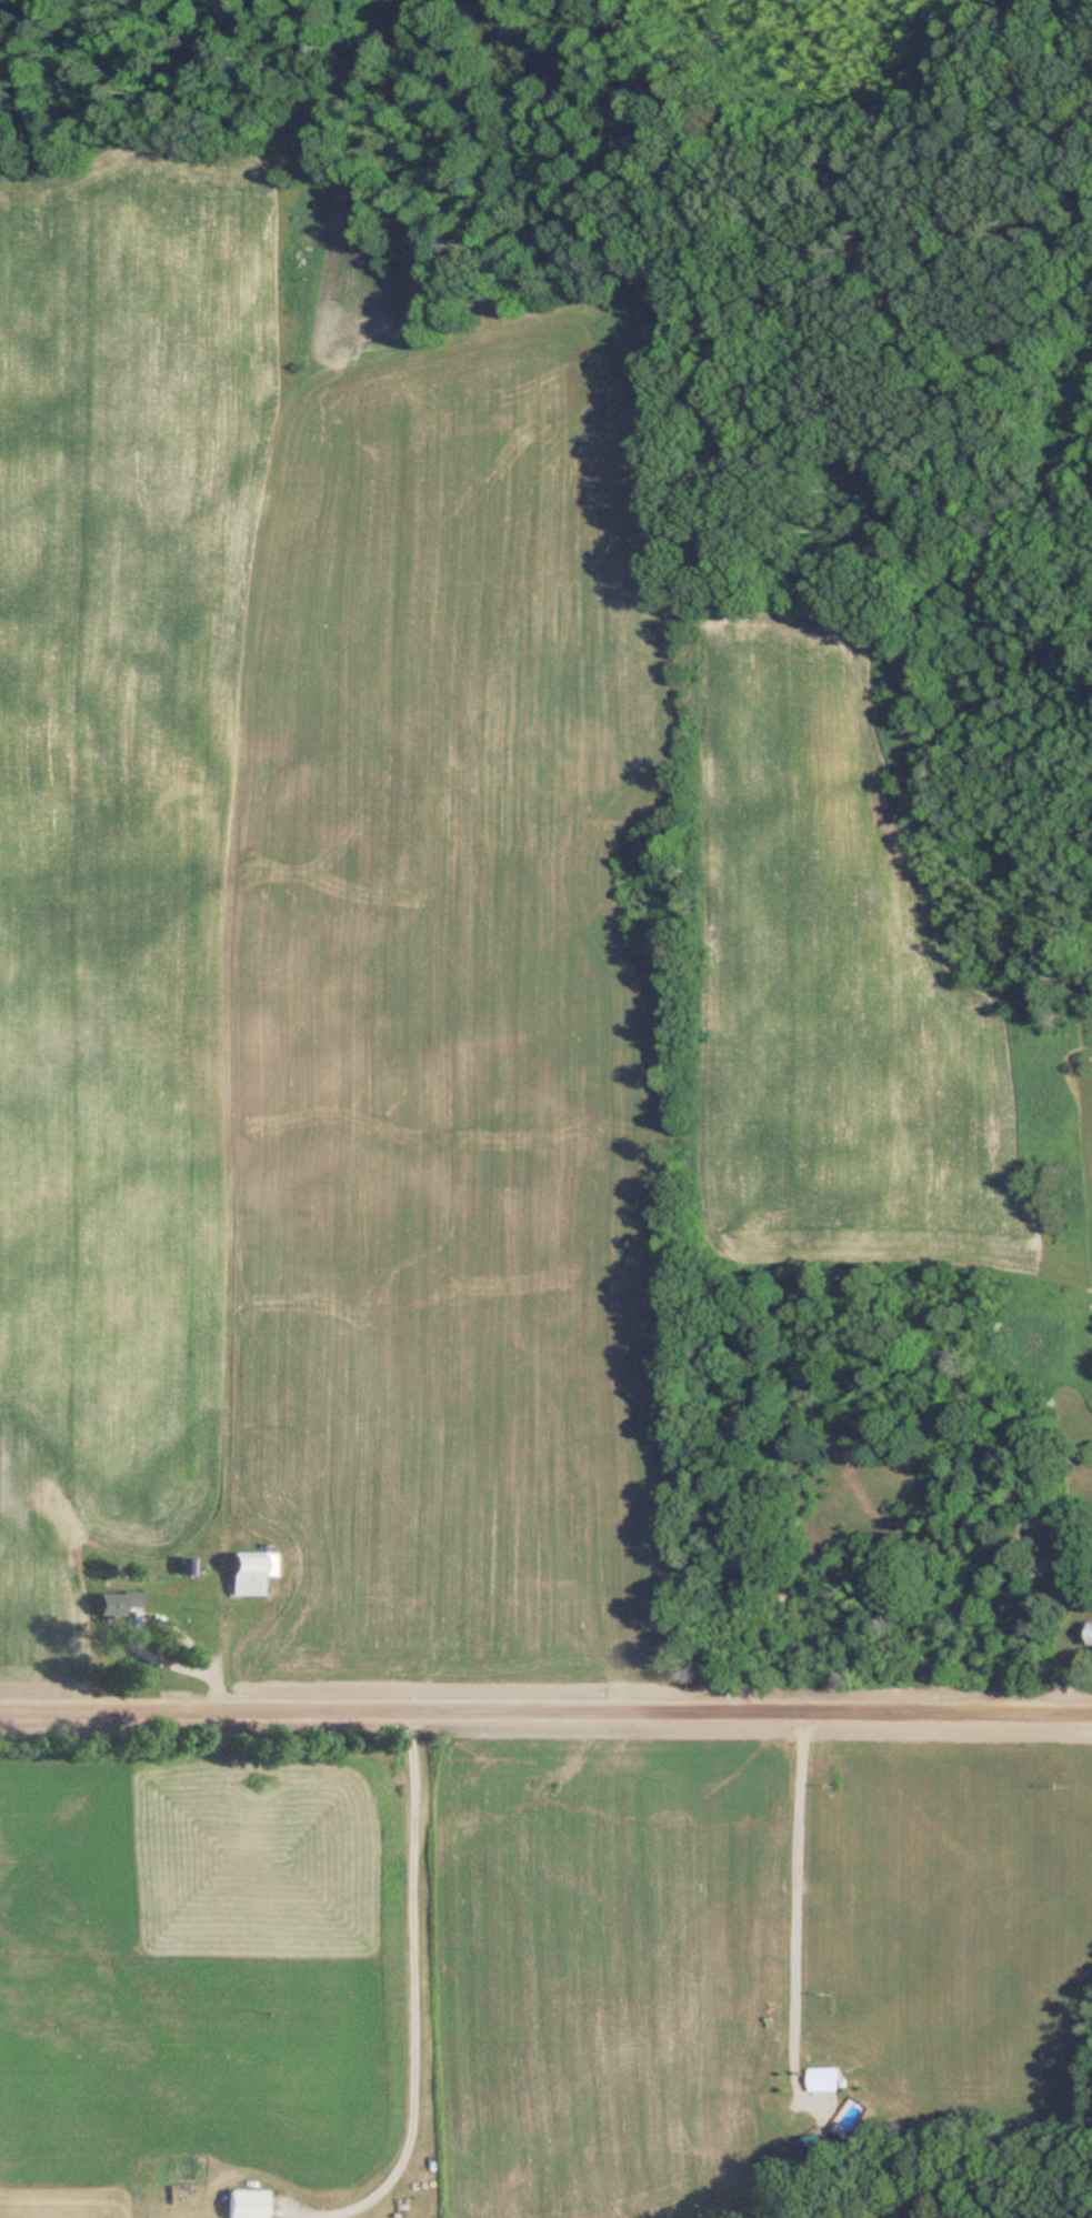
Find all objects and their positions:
building: (181, 1567)
building: (241, 1574)
building: (116, 1604)
building: (1086, 1633)
road: (173, 1660)
road: (545, 1707)
road: (797, 1881)
road: (411, 1999)
building: (824, 2079)
building: (844, 2118)
building: (242, 2204)

